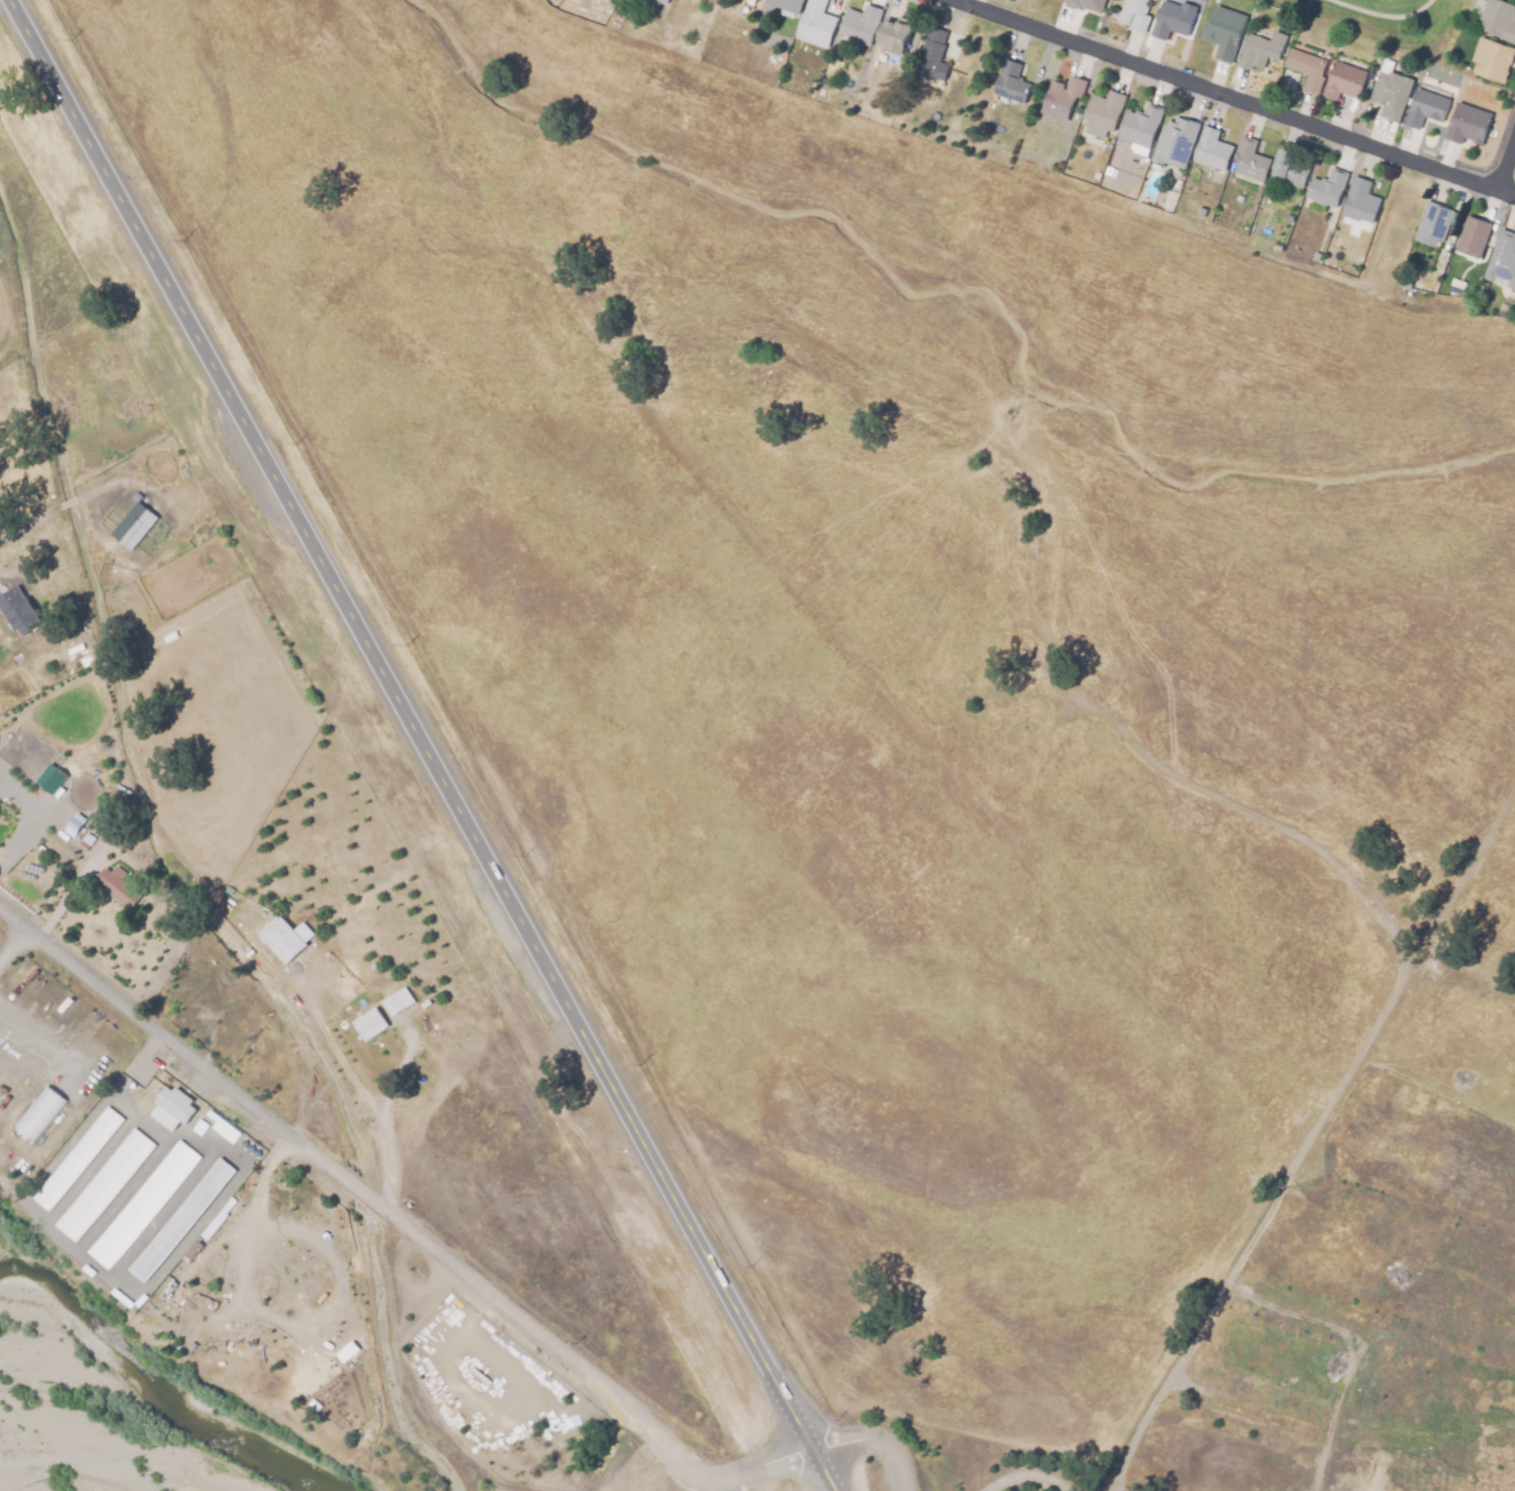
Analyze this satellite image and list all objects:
building: (662, 1)
building: (786, 5)
building: (1086, 5)
park: (1386, 5)
building: (1134, 14)
building: (1173, 20)
building: (1499, 20)
building: (815, 24)
building: (860, 25)
building: (1225, 32)
building: (898, 38)
building: (1261, 51)
building: (933, 56)
building: (1492, 60)
building: (1307, 69)
building: (1343, 82)
building: (1010, 83)
building: (1391, 94)
road: (1237, 96)
building: (1062, 99)
building: (1425, 109)
building: (1102, 114)
building: (1467, 125)
building: (1140, 127)
building: (1175, 143)
building: (1212, 151)
road: (1507, 155)
building: (1250, 161)
building: (1291, 169)
building: (1327, 188)
building: (1360, 201)
building: (1435, 224)
building: (1473, 238)
building: (1503, 259)
building: (1404, 283)
building: (148, 517)
building: (134, 525)
building: (8, 557)
building: (21, 622)
building: (15, 717)
road: (424, 746)
building: (51, 778)
building: (76, 821)
building: (86, 842)
building: (119, 889)
building: (25, 896)
building: (281, 940)
building: (207, 984)
building: (260, 1000)
building: (393, 1005)
building: (369, 1025)
road: (363, 1092)
building: (175, 1108)
building: (39, 1111)
building: (77, 1157)
building: (103, 1183)
building: (142, 1203)
building: (181, 1218)
building: (216, 1218)
road: (406, 1229)
road: (1245, 1245)
building: (321, 1280)
building: (1338, 1318)
building: (347, 1351)
building: (1261, 1411)
road: (873, 1450)
road: (1034, 1475)
road: (3, 1487)

